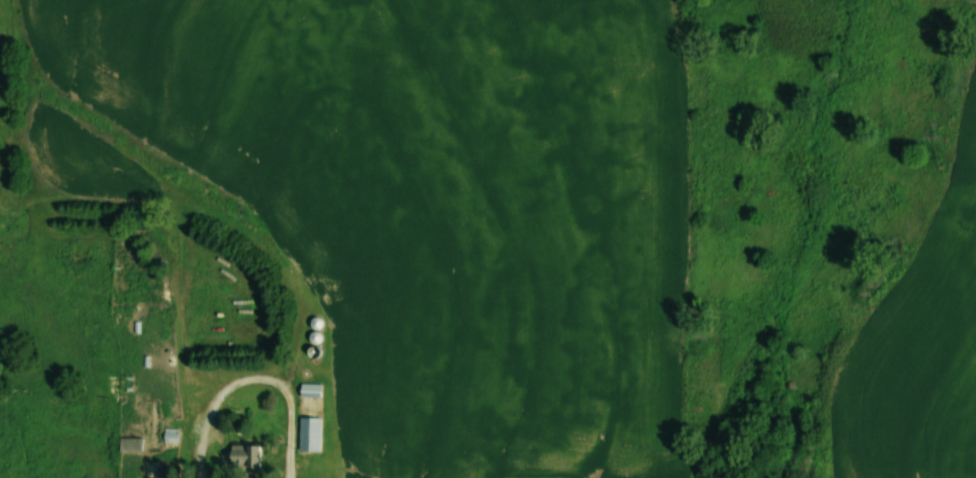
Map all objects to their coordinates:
road: (258, 384)
building: (308, 388)
building: (307, 433)
building: (169, 434)
building: (129, 443)
building: (242, 455)

